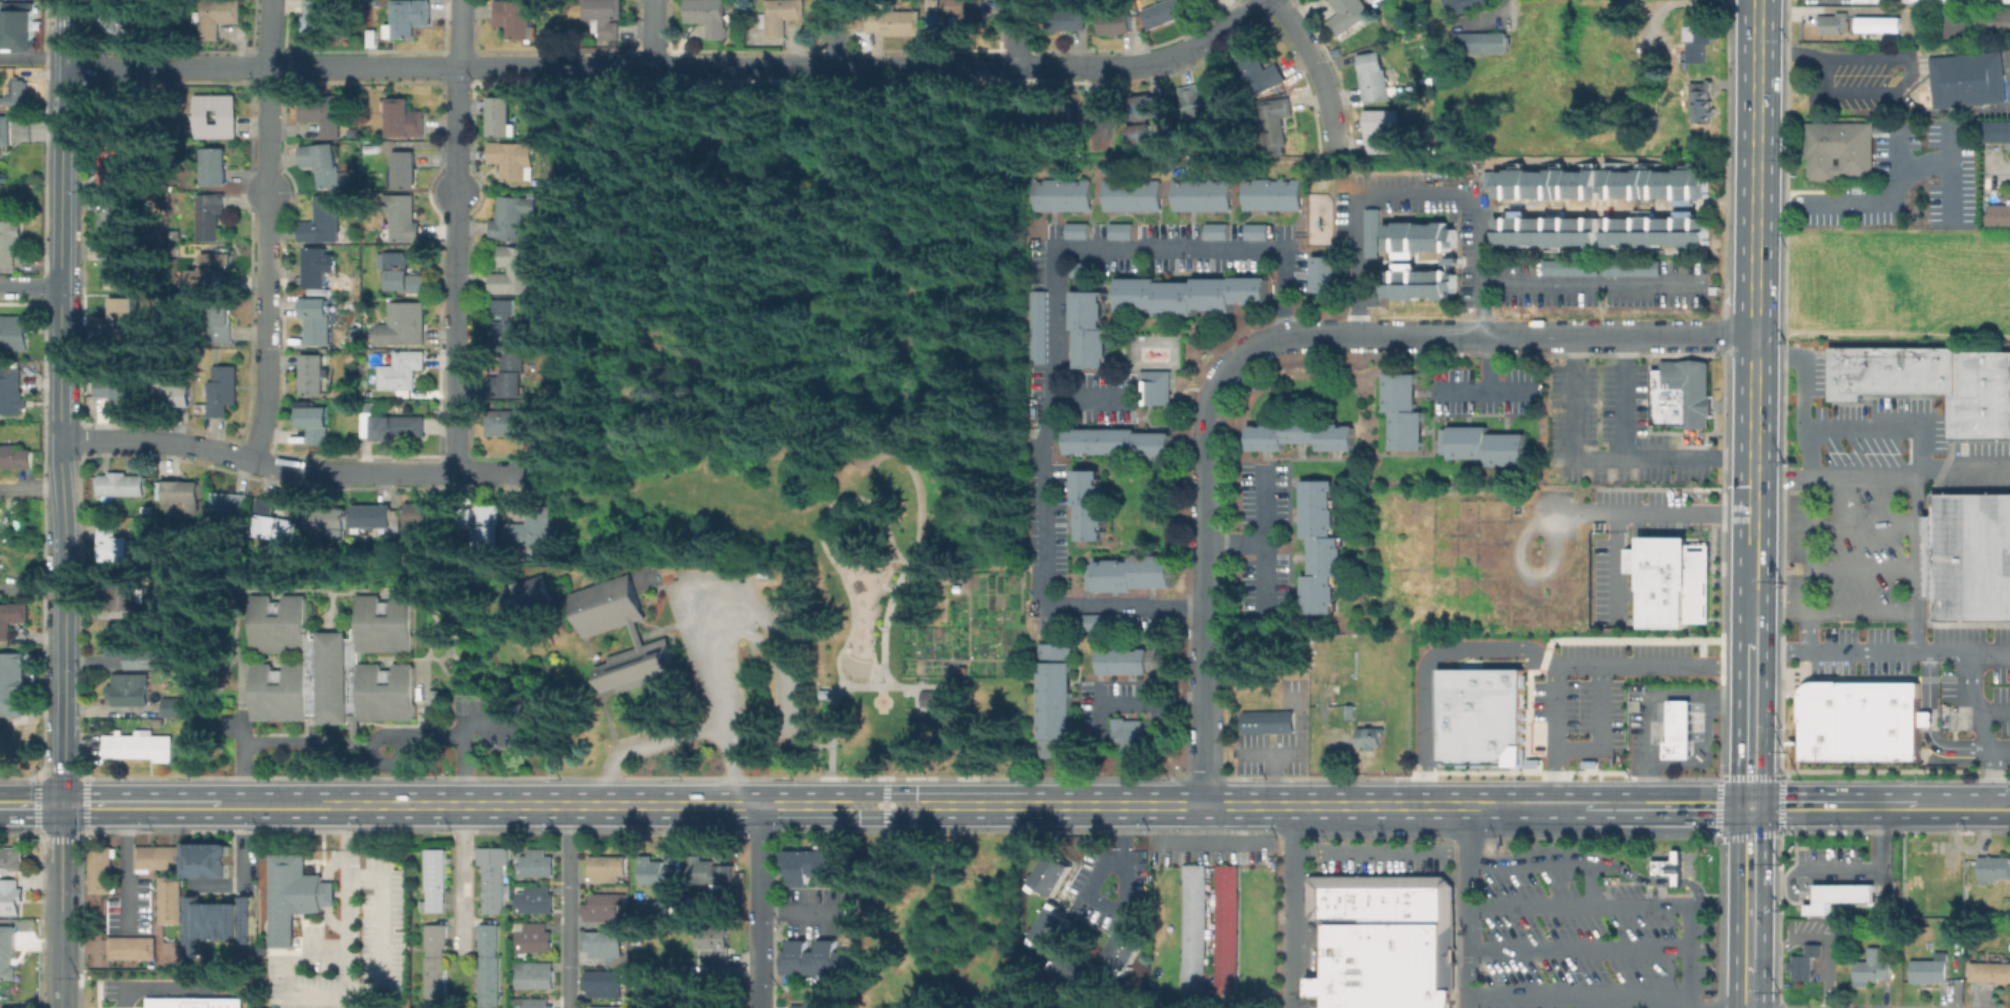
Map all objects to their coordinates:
building: (1871, 0)
building: (1933, 0)
building: (1196, 1)
building: (1374, 1)
building: (1203, 2)
building: (1466, 4)
building: (935, 6)
building: (1164, 12)
building: (967, 14)
building: (1346, 15)
building: (216, 16)
building: (709, 16)
building: (781, 16)
building: (409, 17)
building: (605, 17)
building: (516, 18)
building: (1068, 19)
building: (122, 20)
building: (322, 20)
building: (896, 21)
building: (1115, 21)
building: (1832, 23)
building: (1878, 23)
building: (1980, 23)
building: (20, 28)
road: (654, 33)
road: (837, 33)
road: (1022, 33)
building: (373, 36)
building: (1480, 42)
building: (1695, 43)
road: (1889, 53)
road: (32, 59)
road: (673, 66)
building: (1260, 71)
road: (1318, 72)
building: (1374, 77)
building: (1969, 78)
building: (19, 90)
road: (717, 100)
building: (1203, 100)
building: (1702, 100)
building: (1151, 105)
building: (135, 106)
road: (1106, 110)
building: (322, 112)
building: (229, 116)
building: (501, 116)
building: (406, 118)
building: (1055, 118)
building: (1275, 120)
building: (1386, 129)
building: (1997, 132)
building: (1139, 133)
building: (4, 140)
building: (1840, 149)
road: (1898, 150)
building: (513, 158)
building: (325, 163)
building: (215, 165)
building: (108, 166)
building: (406, 168)
road: (1948, 172)
road: (1998, 173)
building: (1602, 183)
building: (1061, 194)
building: (1200, 194)
building: (1270, 194)
road: (1416, 194)
building: (1131, 195)
road: (1860, 200)
building: (1502, 209)
road: (588, 210)
building: (210, 215)
building: (2000, 215)
building: (404, 216)
building: (512, 217)
building: (111, 218)
building: (323, 220)
building: (1601, 229)
building: (1075, 230)
road: (267, 231)
building: (1119, 231)
building: (1215, 231)
building: (1254, 231)
building: (1374, 232)
road: (458, 236)
road: (613, 237)
building: (1424, 237)
building: (10, 240)
road: (63, 244)
building: (318, 266)
building: (116, 267)
building: (515, 269)
building: (1572, 270)
building: (1636, 270)
building: (212, 271)
building: (402, 272)
road: (1754, 272)
building: (1323, 273)
building: (1418, 283)
road: (1589, 283)
road: (31, 286)
building: (321, 292)
building: (1188, 294)
building: (124, 318)
building: (317, 319)
building: (221, 320)
building: (404, 323)
building: (509, 325)
building: (1037, 327)
building: (1089, 328)
building: (14, 333)
road: (1553, 333)
road: (1289, 335)
road: (1055, 351)
building: (402, 369)
building: (1890, 369)
building: (1872, 370)
building: (1903, 370)
building: (1920, 370)
building: (1943, 370)
building: (513, 373)
building: (1844, 373)
building: (314, 374)
road: (1487, 384)
building: (1155, 386)
road: (1572, 388)
building: (116, 389)
building: (221, 389)
road: (1464, 391)
building: (172, 393)
building: (1683, 393)
building: (11, 394)
building: (1981, 395)
building: (1401, 410)
building: (516, 421)
building: (315, 422)
building: (392, 425)
road: (896, 429)
building: (1300, 435)
building: (1114, 441)
building: (1481, 445)
building: (15, 456)
road: (1628, 456)
road: (303, 471)
road: (1806, 477)
road: (1882, 477)
road: (1206, 481)
road: (1918, 483)
building: (120, 485)
road: (31, 489)
building: (184, 492)
building: (226, 504)
building: (1087, 504)
building: (148, 508)
road: (1594, 512)
road: (1683, 512)
building: (427, 513)
building: (374, 515)
building: (267, 518)
building: (325, 520)
road: (1862, 523)
building: (532, 528)
road: (1263, 536)
road: (820, 539)
parking lot: (1261, 545)
building: (1317, 545)
building: (114, 546)
building: (1969, 556)
road: (907, 561)
road: (868, 563)
road: (1614, 567)
road: (1861, 567)
building: (1127, 573)
road: (1263, 573)
building: (1670, 580)
building: (125, 590)
road: (1752, 590)
building: (532, 597)
road: (1861, 613)
building: (11, 616)
building: (1098, 619)
building: (597, 629)
building: (123, 639)
road: (761, 647)
road: (1515, 649)
road: (1751, 649)
road: (1839, 649)
road: (1938, 649)
building: (154, 658)
building: (1128, 661)
road: (1495, 663)
building: (337, 665)
building: (1858, 678)
road: (919, 679)
building: (13, 684)
road: (847, 685)
road: (828, 686)
building: (130, 689)
building: (1345, 691)
building: (822, 692)
building: (930, 697)
building: (1053, 700)
road: (1651, 701)
building: (177, 706)
road: (1154, 706)
road: (1204, 706)
road: (1659, 706)
road: (1679, 706)
road: (1697, 706)
road: (1992, 707)
road: (1659, 715)
road: (1679, 715)
road: (1697, 715)
building: (1481, 716)
road: (1927, 717)
building: (1861, 719)
building: (1266, 721)
road: (1659, 725)
road: (1679, 725)
road: (1697, 725)
road: (1982, 726)
road: (680, 728)
road: (1601, 728)
building: (1678, 729)
building: (1125, 733)
road: (1750, 734)
road: (1556, 735)
road: (1659, 735)
road: (1679, 735)
road: (1697, 735)
building: (1371, 737)
road: (278, 740)
parking lot: (1274, 740)
road: (460, 743)
building: (141, 745)
road: (62, 748)
road: (1961, 749)
road: (1299, 750)
road: (1704, 754)
road: (241, 758)
building: (1534, 763)
building: (1591, 763)
road: (856, 777)
road: (1273, 779)
road: (884, 804)
road: (30, 805)
traffic signals: (61, 805)
road: (144, 805)
road: (891, 805)
road: (1834, 805)
road: (1566, 806)
road: (1664, 806)
traffic signals: (1750, 806)
road: (1964, 806)
road: (1121, 826)
road: (1209, 843)
road: (241, 847)
road: (1381, 852)
road: (1883, 852)
building: (159, 857)
building: (12, 859)
road: (1553, 859)
building: (207, 860)
building: (534, 863)
parking lot: (1382, 864)
building: (813, 865)
building: (1668, 867)
road: (1814, 867)
building: (101, 868)
road: (124, 868)
building: (606, 868)
building: (1993, 868)
building: (656, 871)
building: (711, 871)
building: (1048, 873)
road: (1629, 873)
building: (491, 876)
road: (460, 877)
road: (1675, 880)
building: (432, 881)
building: (1429, 886)
road: (1750, 888)
road: (1696, 889)
road: (1091, 893)
road: (1842, 893)
building: (291, 894)
building: (1836, 895)
building: (1329, 897)
building: (10, 898)
building: (1363, 898)
building: (532, 899)
building: (1384, 899)
building: (1398, 899)
road: (342, 901)
building: (1429, 903)
building: (169, 904)
road: (564, 906)
building: (601, 906)
road: (754, 906)
road: (1293, 906)
road: (1630, 906)
road: (1470, 907)
building: (654, 910)
building: (1429, 916)
building: (216, 921)
building: (1049, 928)
building: (1191, 929)
building: (1224, 931)
building: (531, 936)
parking lot: (1584, 939)
building: (601, 943)
building: (716, 943)
road: (1579, 945)
road: (323, 946)
building: (133, 947)
building: (1121, 947)
parking lot: (346, 949)
building: (815, 956)
building: (1805, 962)
building: (433, 964)
building: (487, 964)
building: (1386, 965)
building: (6, 966)
building: (1871, 970)
building: (1929, 970)
building: (1990, 971)
building: (532, 974)
road: (379, 983)
building: (601, 983)
road: (154, 988)
park: (171, 988)
road: (1748, 990)
road: (1575, 994)
road: (1588, 1001)
building: (191, 1002)
building: (531, 1002)
building: (652, 1002)
building: (817, 1004)
building: (606, 1006)
road: (5, 1007)
road: (73, 1007)
road: (130, 1007)

